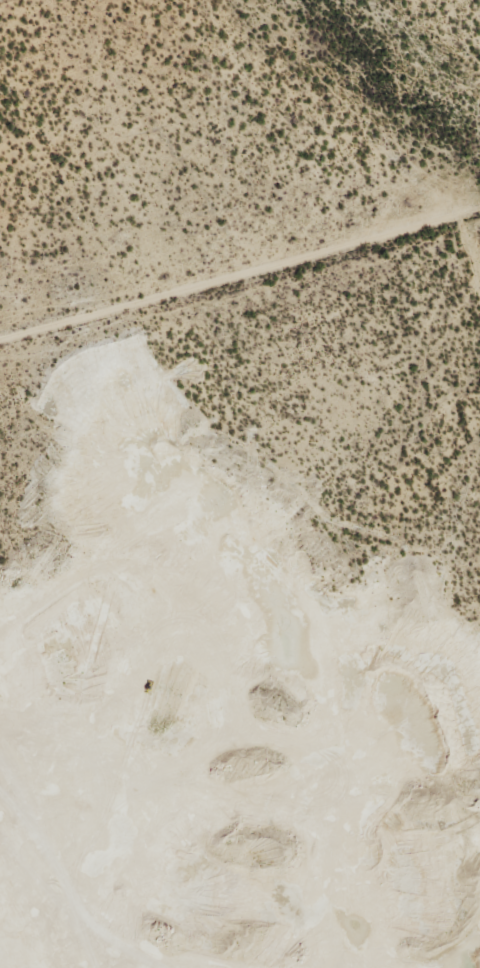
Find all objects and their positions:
road: (470, 227)
road: (240, 272)

